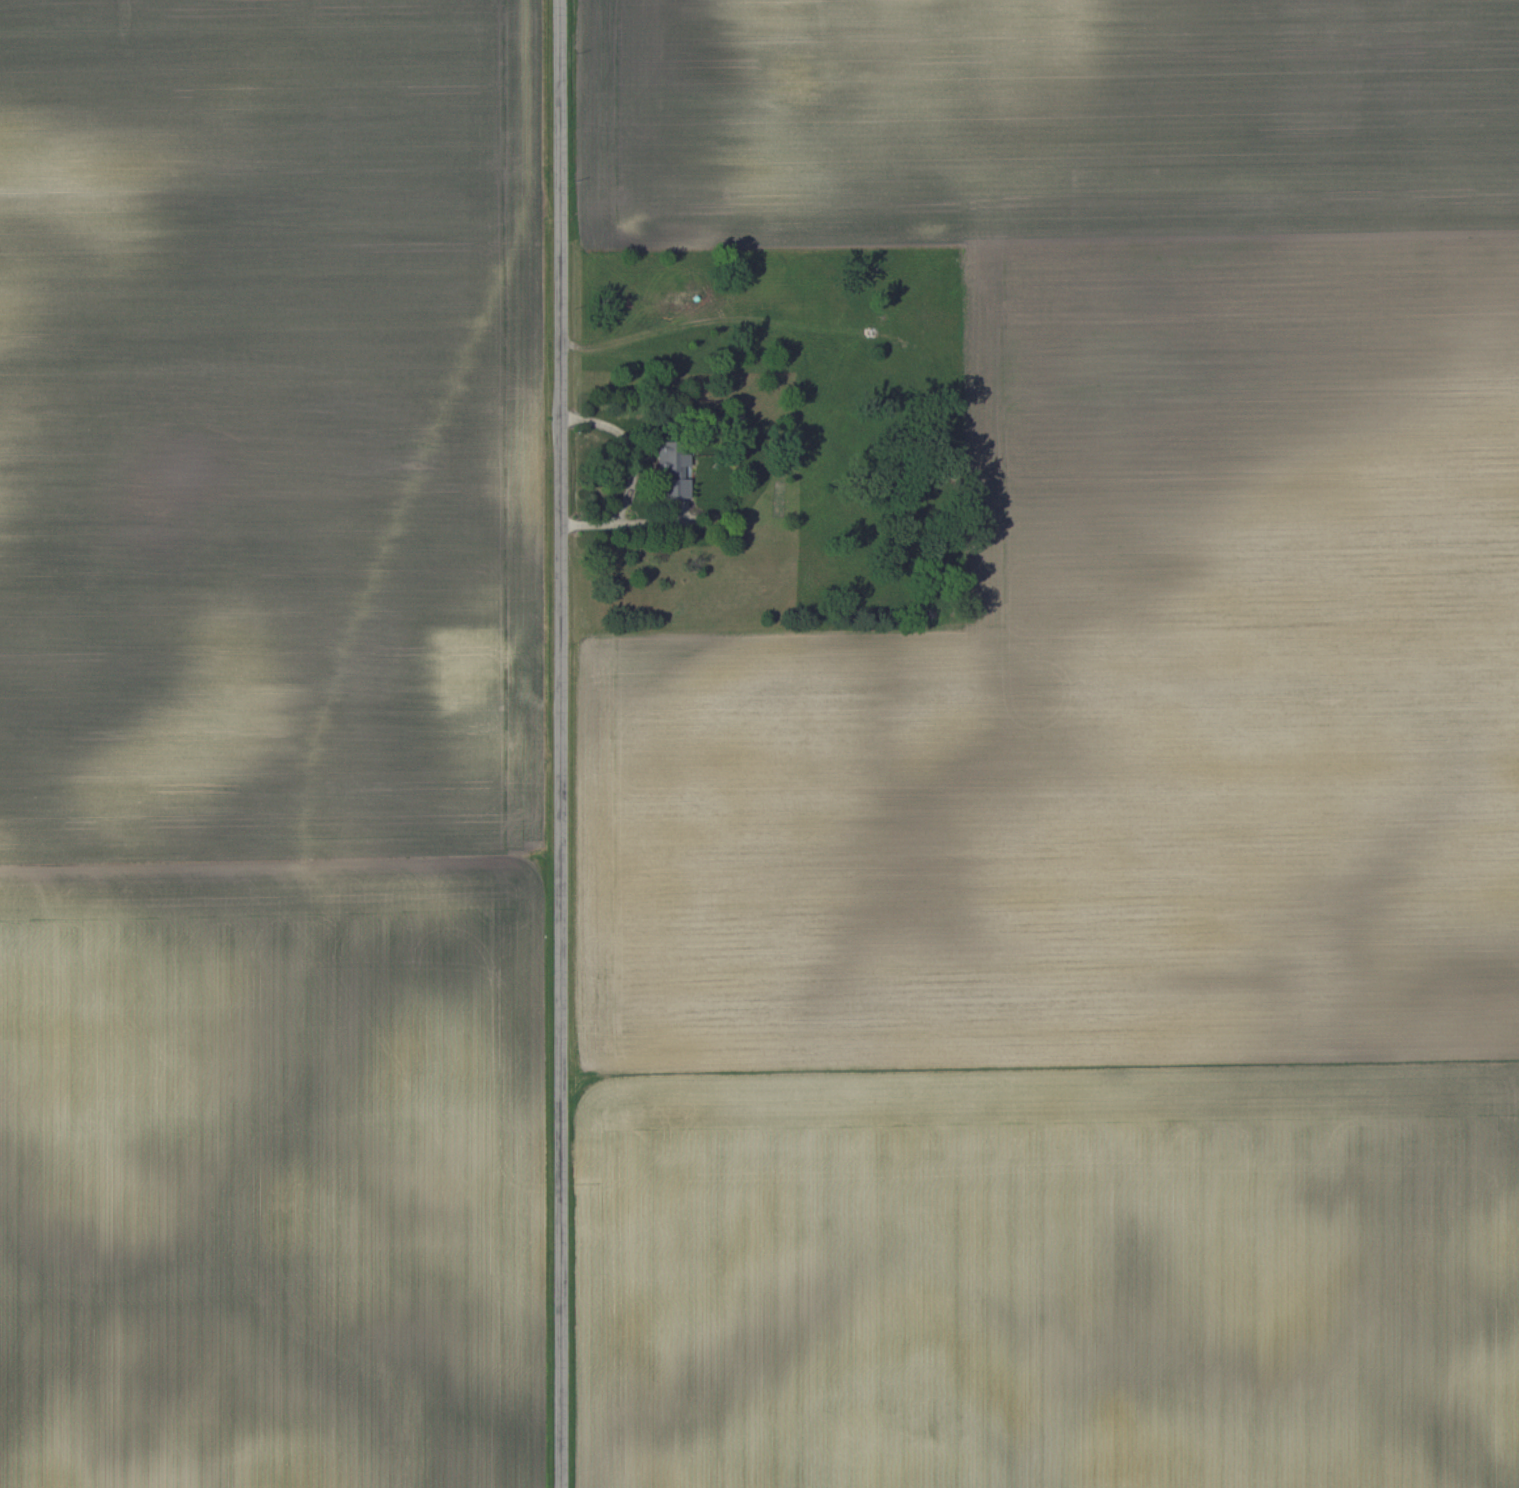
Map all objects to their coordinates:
building: (672, 469)
road: (630, 471)
road: (555, 744)

